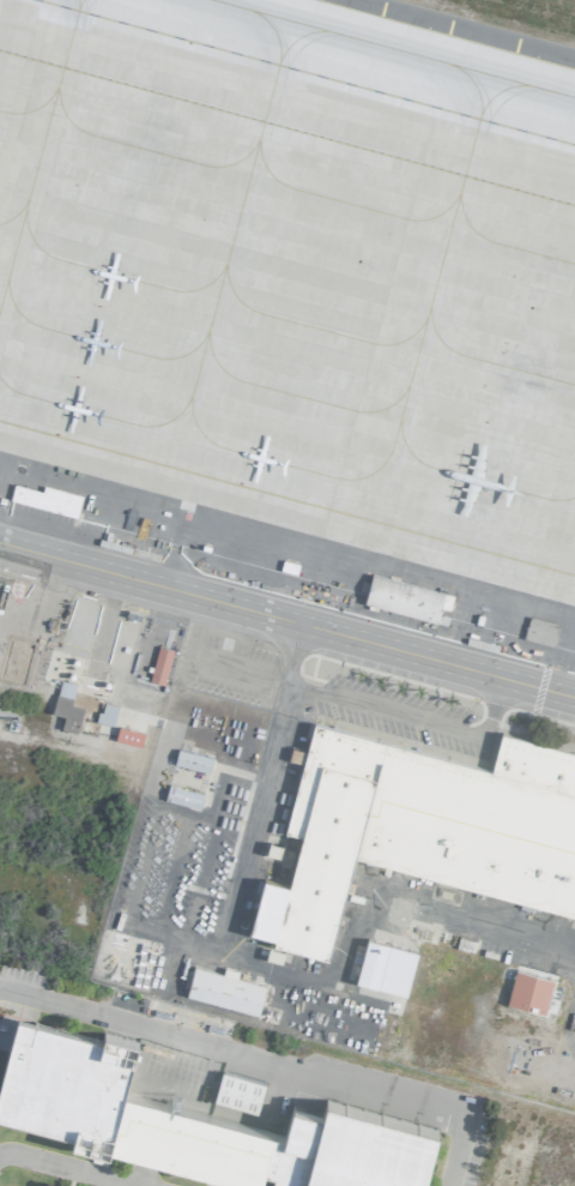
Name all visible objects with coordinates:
airport taxiway: (388, 50)
airport apron: (289, 282)
building: (44, 499)
airport: (287, 592)
building: (404, 597)
road: (287, 624)
building: (539, 631)
road: (291, 655)
building: (158, 664)
building: (65, 706)
building: (105, 712)
road: (408, 716)
building: (127, 735)
building: (190, 760)
building: (181, 796)
road: (253, 815)
building: (420, 827)
building: (272, 955)
building: (383, 965)
building: (223, 989)
building: (528, 991)
road: (264, 1059)
building: (236, 1090)
building: (195, 1120)
road: (69, 1167)

